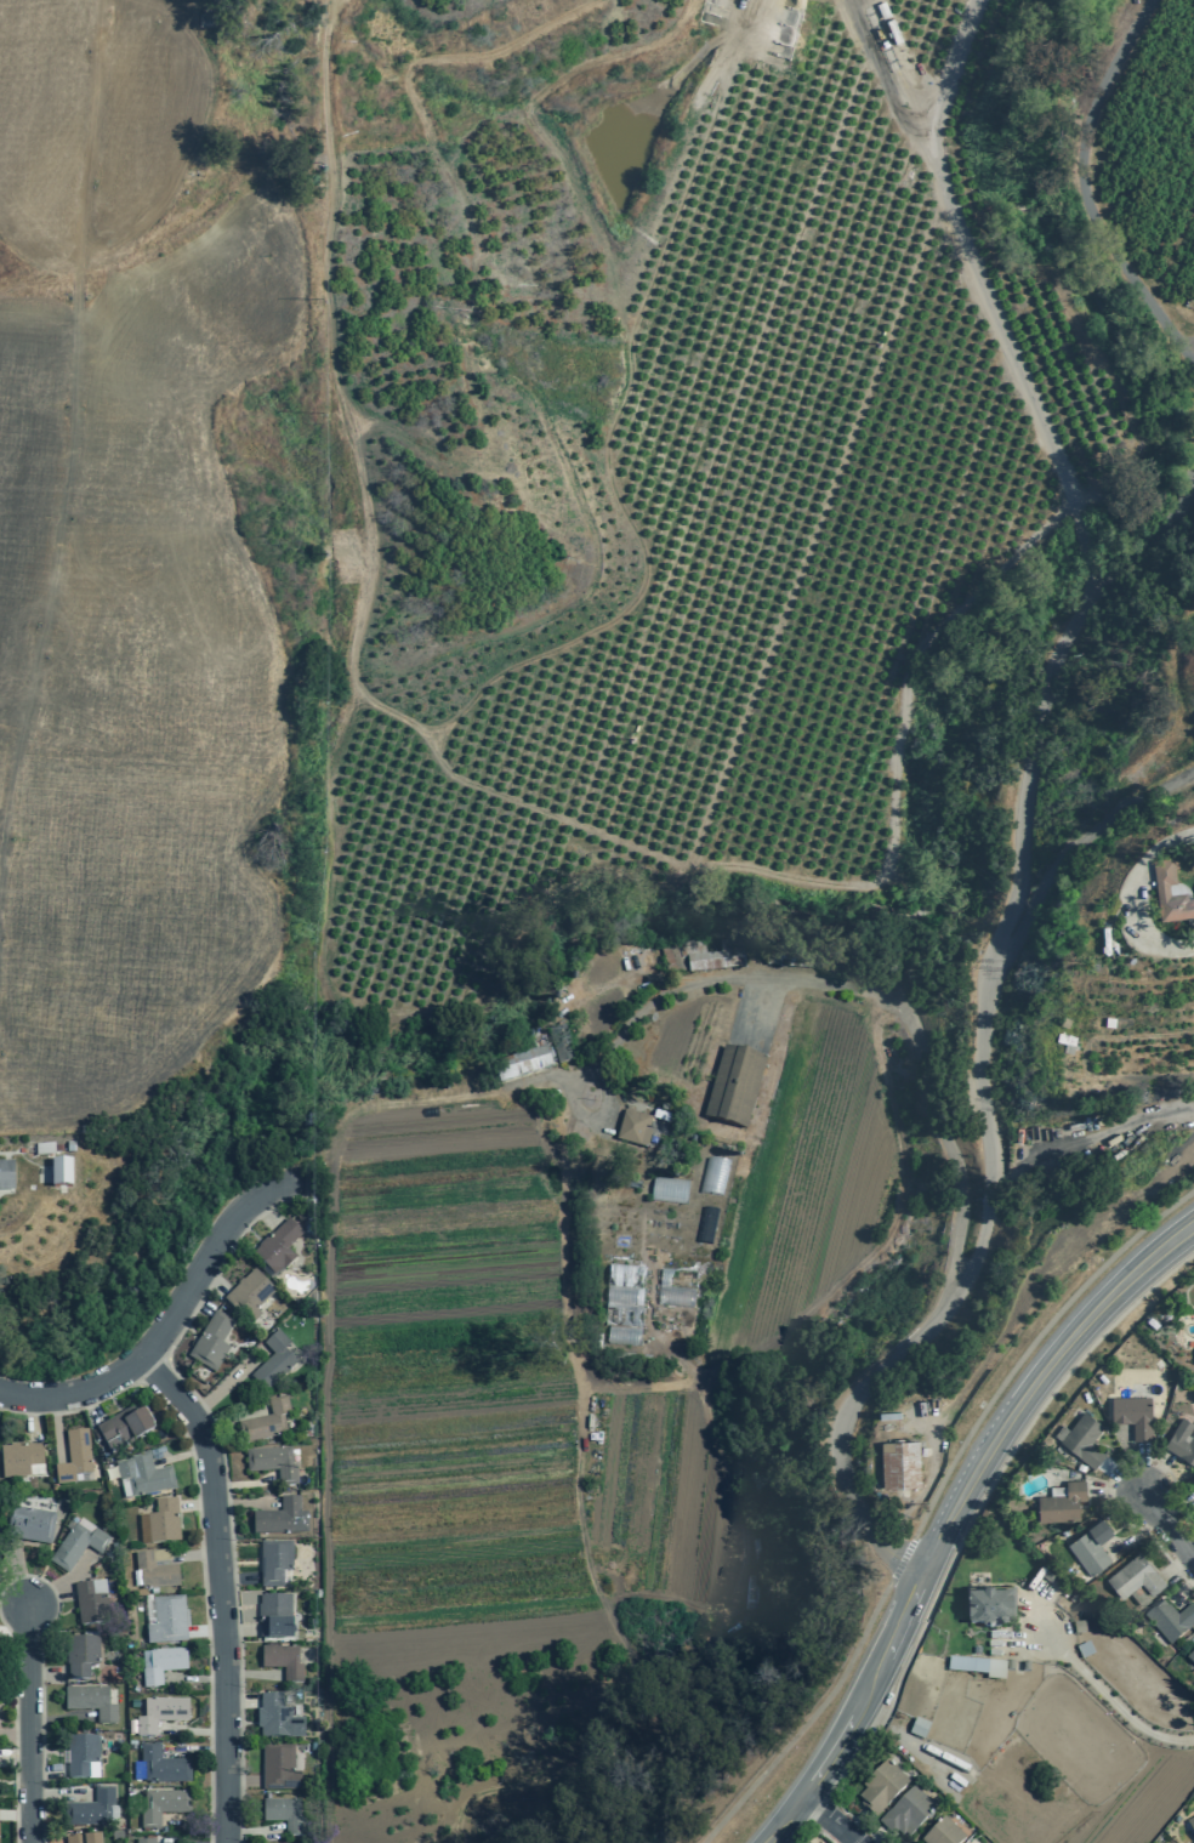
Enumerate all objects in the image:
power tower: (319, 160)
road: (1084, 189)
road: (972, 260)
power tower: (323, 298)
power tower: (323, 413)
road: (68, 468)
road: (1078, 517)
road: (1145, 544)
road: (1084, 545)
crop: (130, 554)
power tower: (325, 576)
road: (1090, 578)
power tower: (325, 699)
road: (1023, 786)
power tower: (324, 847)
road: (1065, 858)
building: (1162, 888)
road: (1136, 892)
building: (700, 957)
power tower: (313, 966)
building: (562, 1043)
building: (519, 1064)
building: (734, 1087)
power tower: (308, 1126)
building: (632, 1126)
road: (1088, 1144)
building: (61, 1173)
building: (6, 1176)
building: (713, 1176)
road: (297, 1189)
building: (669, 1189)
road: (265, 1208)
power tower: (311, 1208)
building: (705, 1225)
building: (278, 1246)
road: (212, 1278)
building: (675, 1290)
building: (249, 1295)
road: (1023, 1298)
road: (195, 1303)
building: (620, 1307)
power tower: (312, 1309)
road: (942, 1315)
road: (167, 1321)
park: (92, 1333)
building: (211, 1342)
road: (1030, 1344)
building: (273, 1361)
road: (150, 1370)
road: (1033, 1373)
road: (226, 1382)
road: (1044, 1394)
road: (90, 1405)
building: (1133, 1416)
road: (34, 1418)
building: (266, 1422)
road: (56, 1427)
building: (124, 1429)
building: (1084, 1439)
building: (1182, 1441)
road: (181, 1455)
building: (73, 1457)
building: (21, 1460)
building: (272, 1463)
building: (900, 1464)
road: (1142, 1469)
power tower: (312, 1473)
road: (1155, 1474)
building: (141, 1475)
road: (1121, 1478)
crop: (487, 1480)
road: (224, 1483)
road: (243, 1483)
road: (1107, 1483)
road: (1115, 1489)
road: (241, 1502)
building: (1062, 1503)
road: (197, 1504)
road: (1178, 1512)
building: (280, 1518)
building: (160, 1523)
building: (30, 1524)
road: (1166, 1528)
road: (966, 1530)
road: (199, 1531)
road: (1138, 1535)
building: (76, 1543)
building: (1091, 1547)
road: (11, 1551)
road: (195, 1554)
building: (159, 1555)
road: (11, 1559)
road: (903, 1559)
building: (275, 1564)
road: (1176, 1566)
building: (154, 1572)
road: (74, 1576)
building: (1135, 1577)
road: (220, 1588)
road: (1182, 1589)
road: (22, 1593)
road: (61, 1593)
road: (41, 1602)
building: (91, 1602)
road: (15, 1605)
building: (989, 1605)
building: (274, 1615)
building: (1170, 1620)
building: (167, 1621)
road: (16, 1623)
building: (1079, 1627)
road: (238, 1629)
road: (206, 1631)
power tower: (314, 1631)
building: (1084, 1649)
building: (80, 1655)
building: (1190, 1657)
building: (283, 1661)
building: (160, 1665)
building: (1008, 1665)
building: (1024, 1666)
building: (978, 1667)
road: (250, 1673)
road: (44, 1674)
road: (199, 1678)
road: (13, 1683)
road: (40, 1683)
road: (1110, 1700)
building: (91, 1702)
road: (240, 1702)
road: (858, 1713)
building: (160, 1714)
building: (277, 1718)
road: (56, 1720)
road: (808, 1720)
road: (15, 1727)
road: (28, 1727)
building: (919, 1728)
road: (193, 1730)
road: (195, 1752)
road: (13, 1756)
building: (83, 1756)
building: (161, 1765)
building: (279, 1768)
road: (45, 1770)
power tower: (313, 1776)
road: (240, 1781)
building: (881, 1787)
road: (58, 1796)
building: (161, 1805)
building: (90, 1809)
road: (821, 1810)
building: (908, 1813)
building: (284, 1814)
road: (15, 1815)
road: (830, 1819)
road: (194, 1821)
road: (853, 1822)
building: (1190, 1822)
road: (811, 1827)
road: (250, 1831)
building: (943, 1833)
road: (876, 1837)
building: (91, 1838)
building: (72, 1839)
building: (143, 1841)
road: (170, 1842)
building: (966, 1842)
building: (968, 1842)

